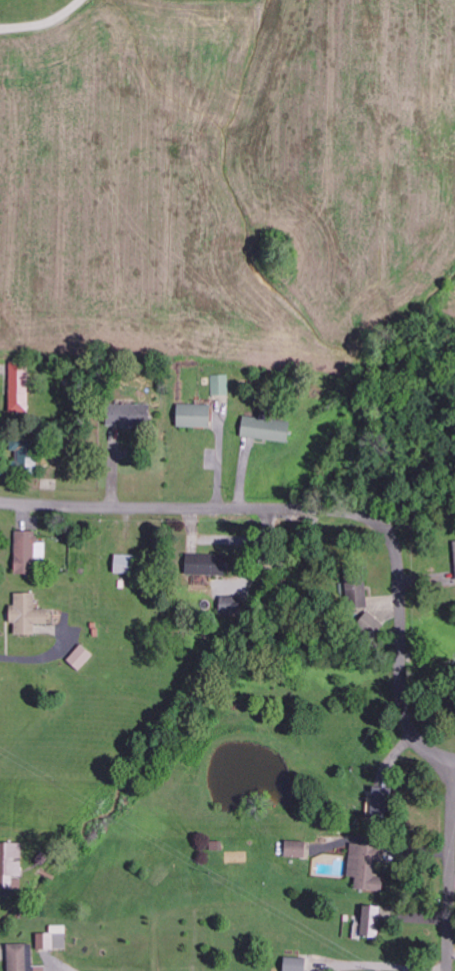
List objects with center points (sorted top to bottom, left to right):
building: (221, 385)
building: (21, 388)
building: (130, 416)
building: (196, 416)
building: (267, 429)
building: (27, 458)
road: (318, 514)
building: (29, 551)
building: (126, 564)
building: (210, 566)
building: (357, 587)
building: (29, 615)
building: (82, 658)
building: (11, 865)
building: (367, 867)
road: (451, 868)
building: (372, 923)
building: (52, 942)
building: (23, 958)
building: (297, 964)
road: (378, 966)

